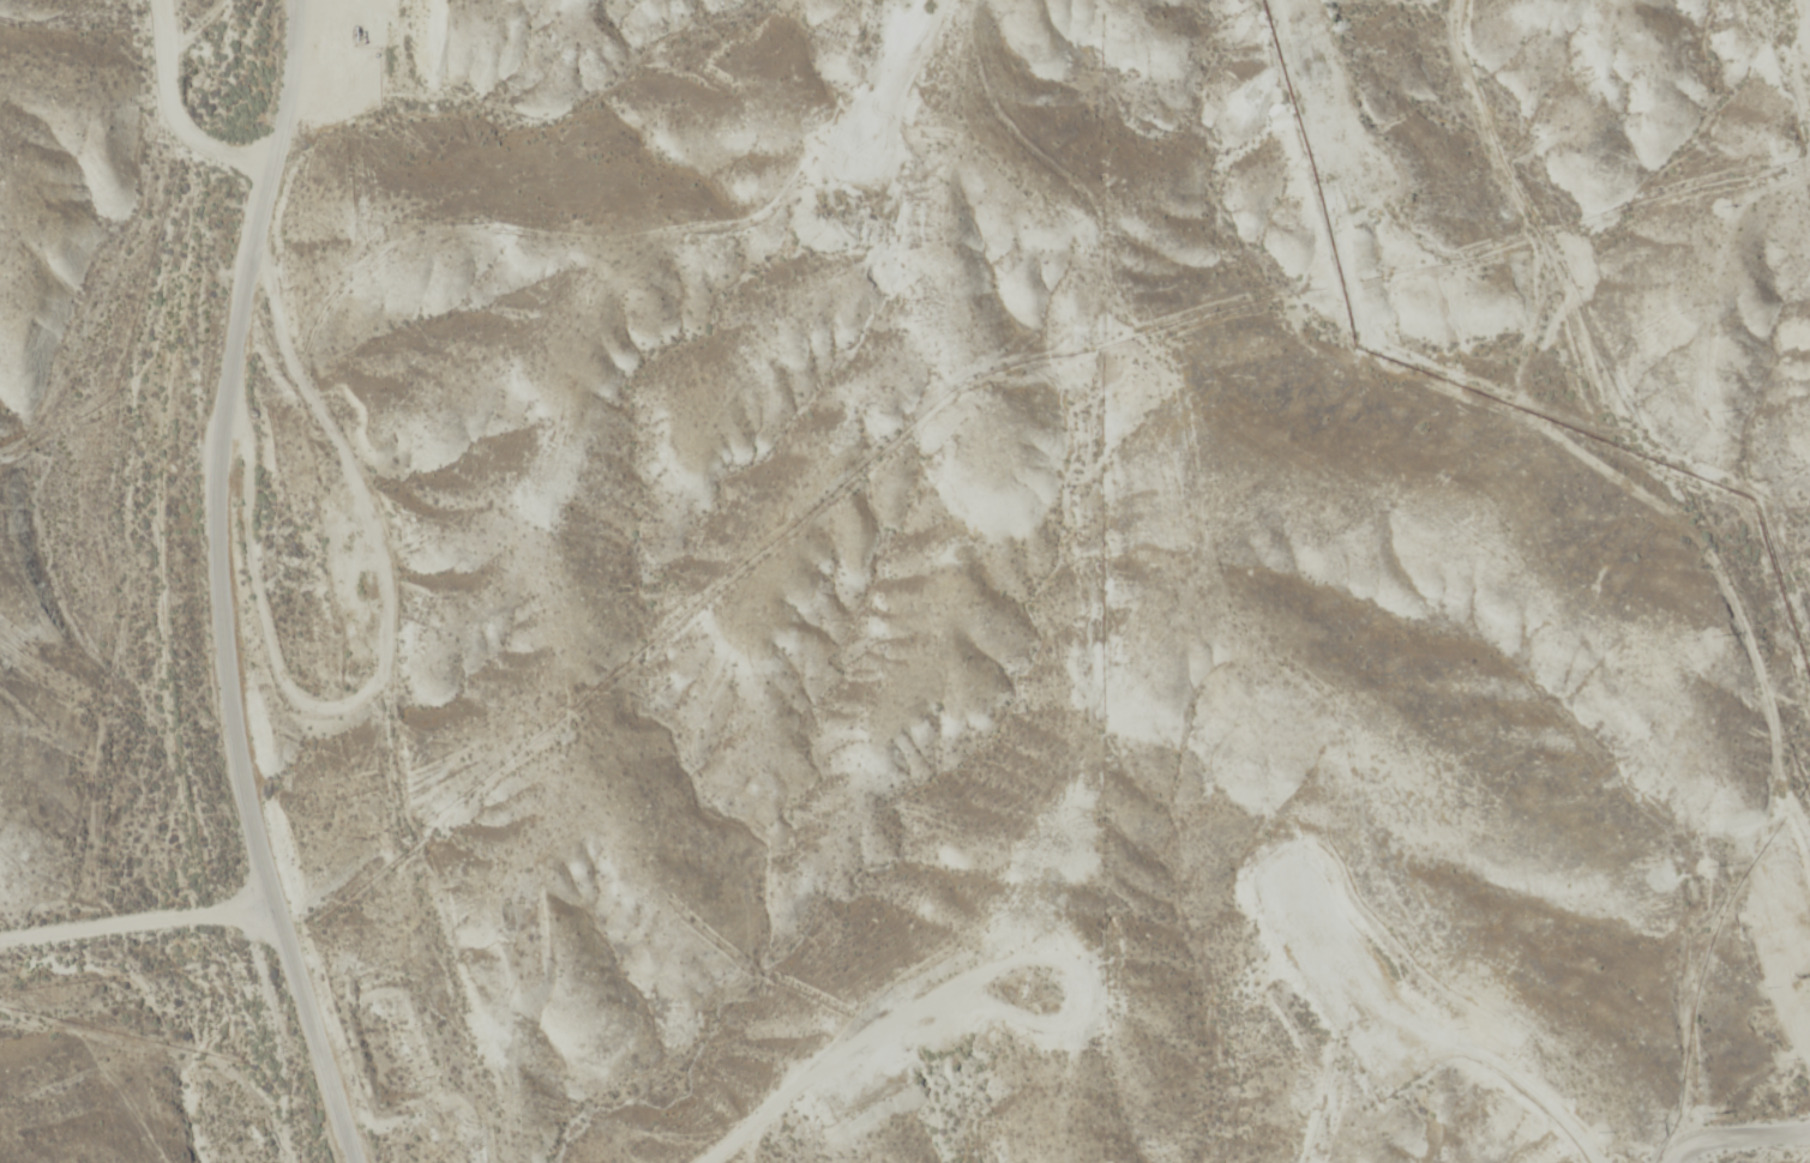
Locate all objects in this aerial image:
road: (1299, 18)
road: (1000, 25)
petroleum well: (360, 31)
road: (1447, 88)
road: (1776, 92)
road: (164, 113)
road: (843, 125)
road: (218, 585)
road: (1076, 855)
road: (138, 924)
petroleum well: (1805, 972)
road: (1760, 1122)

